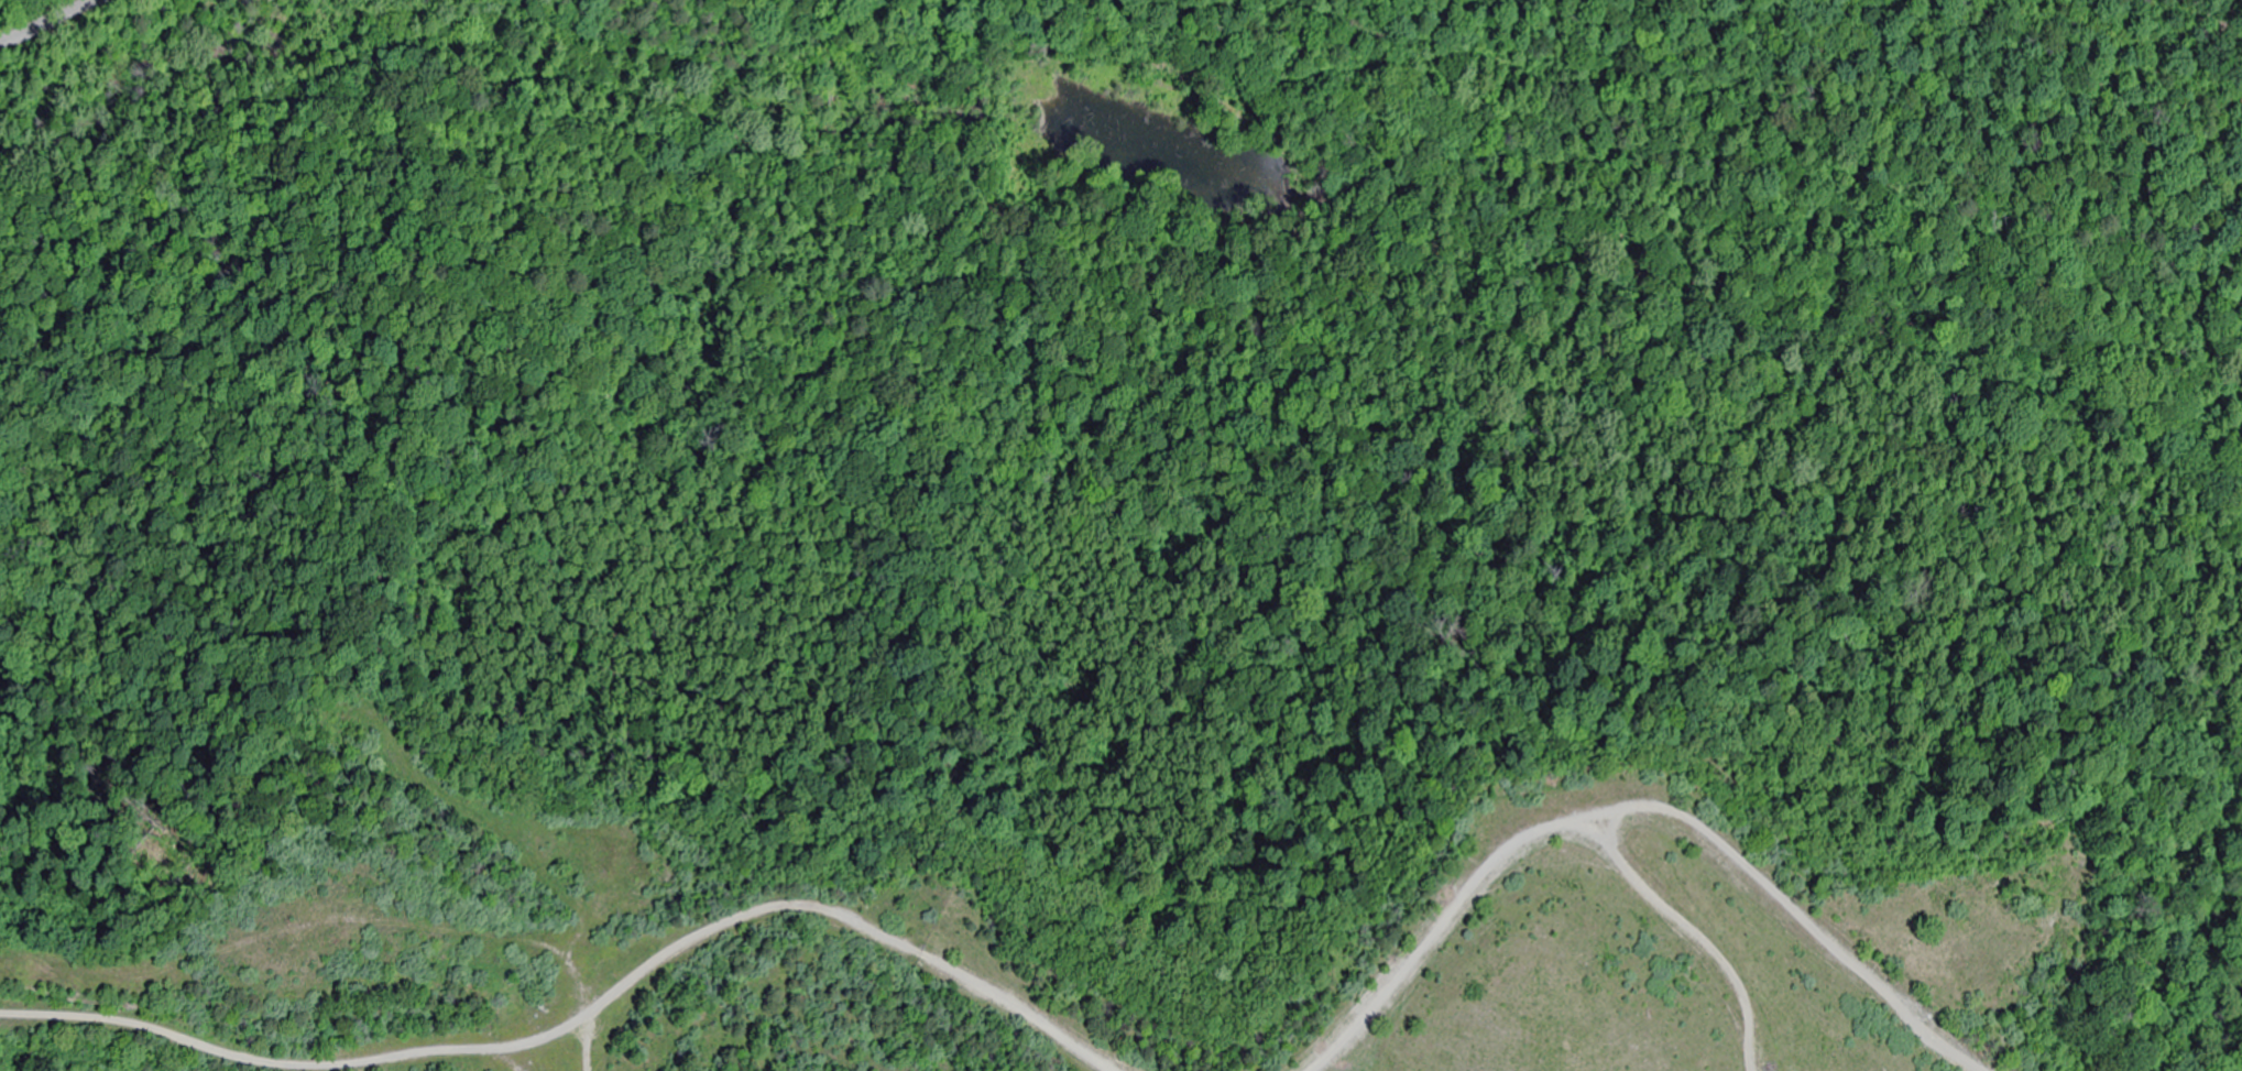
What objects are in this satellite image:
road: (56, 24)

